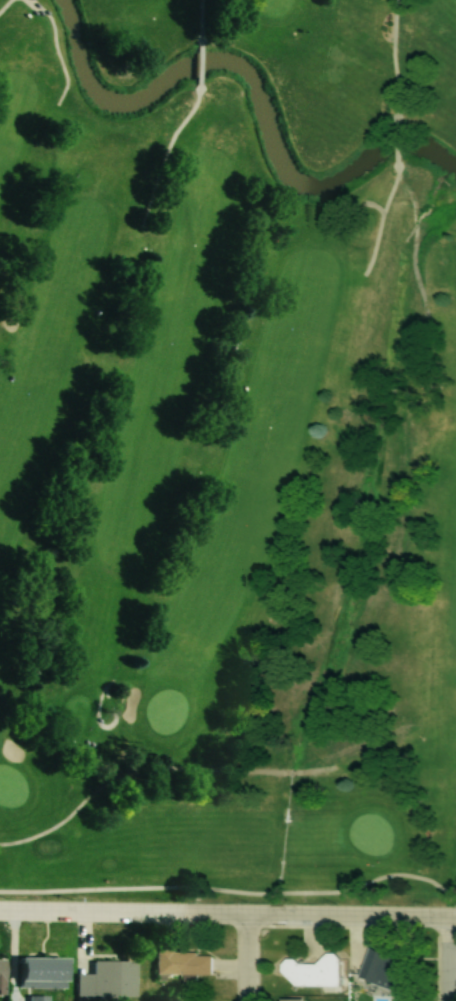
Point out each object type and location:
road: (4, 4)
road: (207, 20)
road: (62, 49)
road: (206, 59)
road: (397, 61)
road: (190, 112)
road: (403, 139)
road: (387, 212)
park: (228, 450)
road: (101, 708)
road: (154, 761)
road: (231, 887)
road: (227, 917)
road: (238, 959)
road: (448, 959)
building: (184, 963)
building: (2, 969)
building: (42, 972)
building: (313, 972)
building: (108, 980)
building: (37, 998)

